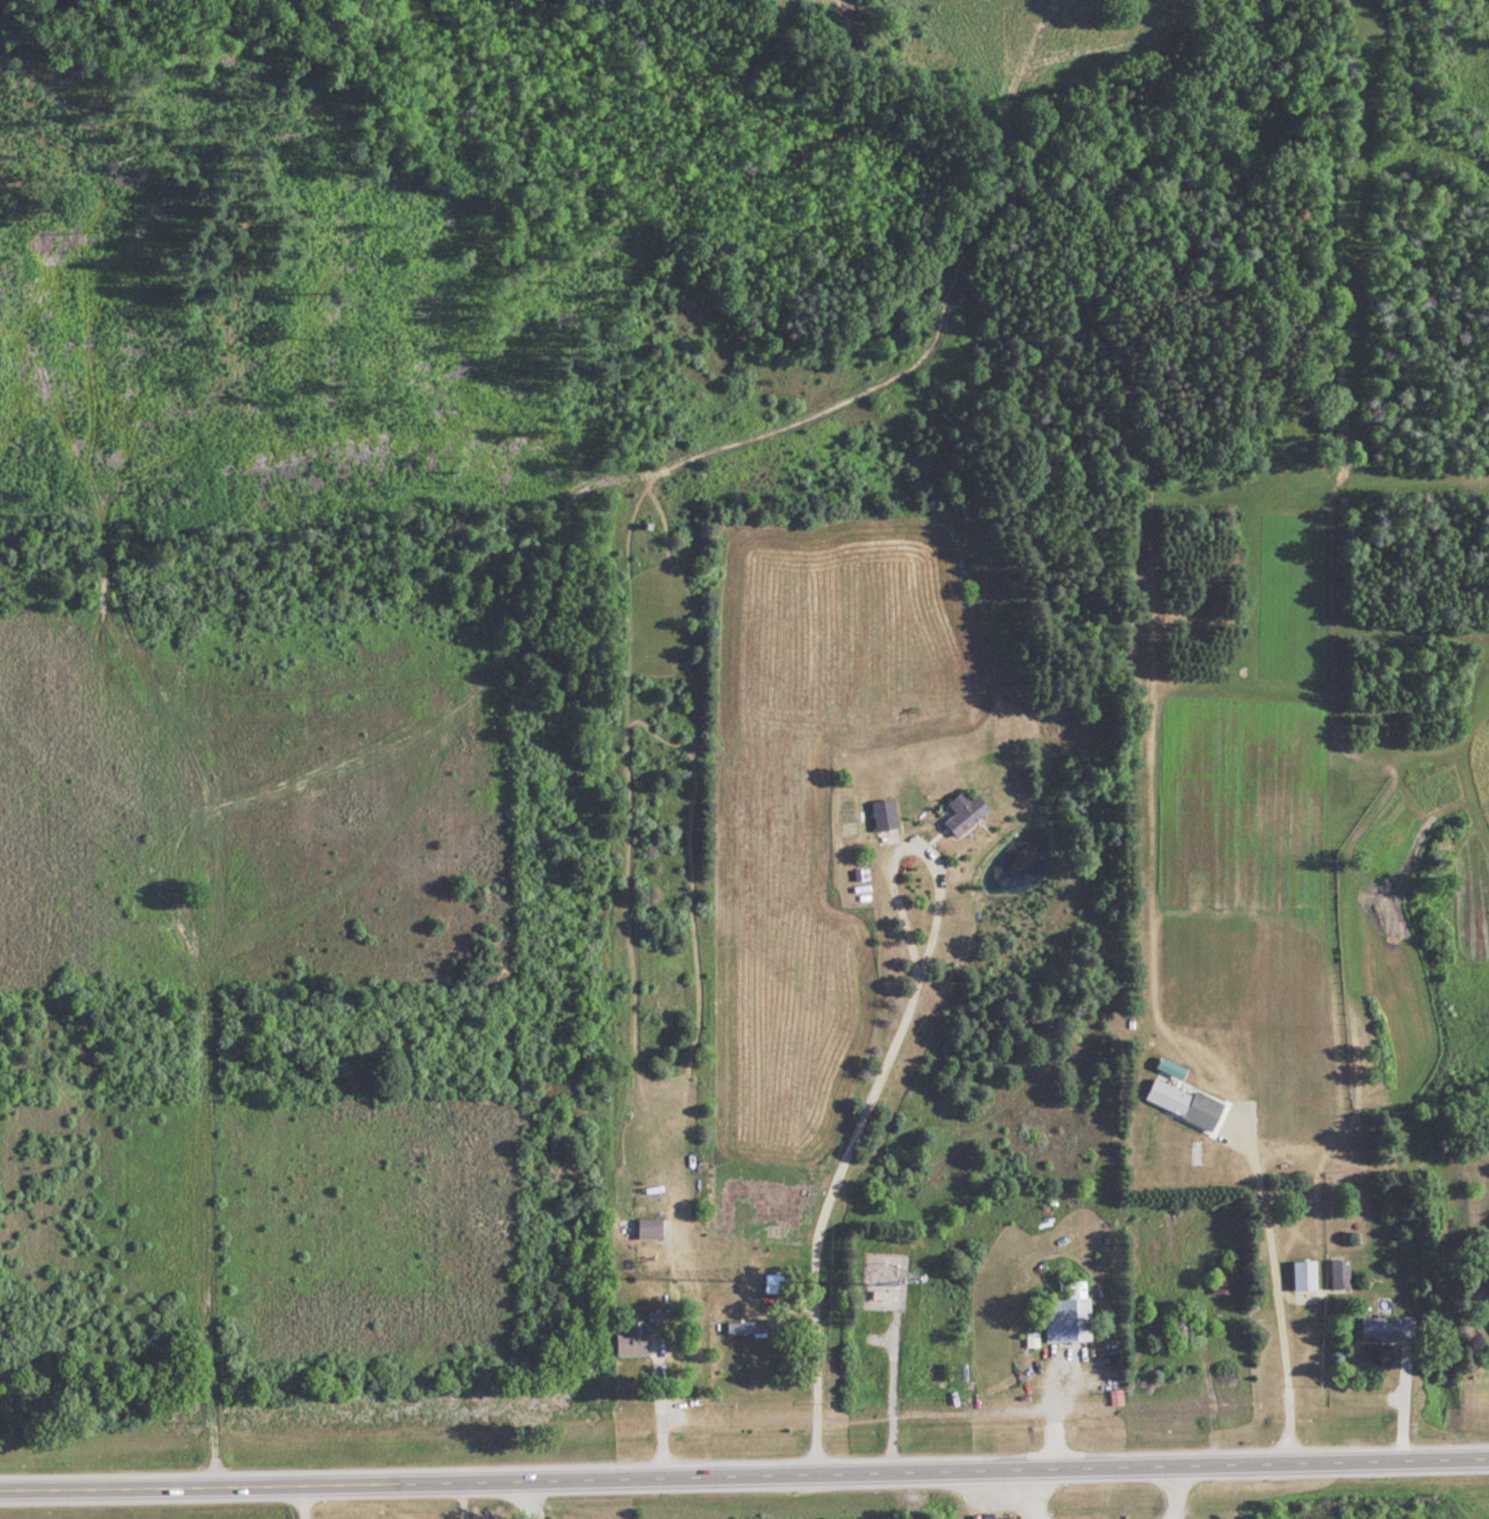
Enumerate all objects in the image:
park: (545, 575)
building: (958, 812)
building: (880, 814)
road: (874, 1076)
building: (1176, 1102)
building: (643, 1227)
building: (1298, 1273)
building: (1217, 1277)
road: (1272, 1282)
building: (1062, 1313)
building: (1172, 1323)
building: (742, 1326)
building: (1383, 1327)
building: (632, 1336)
road: (888, 1393)
road: (1398, 1402)
road: (655, 1407)
road: (1053, 1408)
road: (744, 1472)
road: (1171, 1490)
road: (1017, 1492)
road: (461, 1497)

